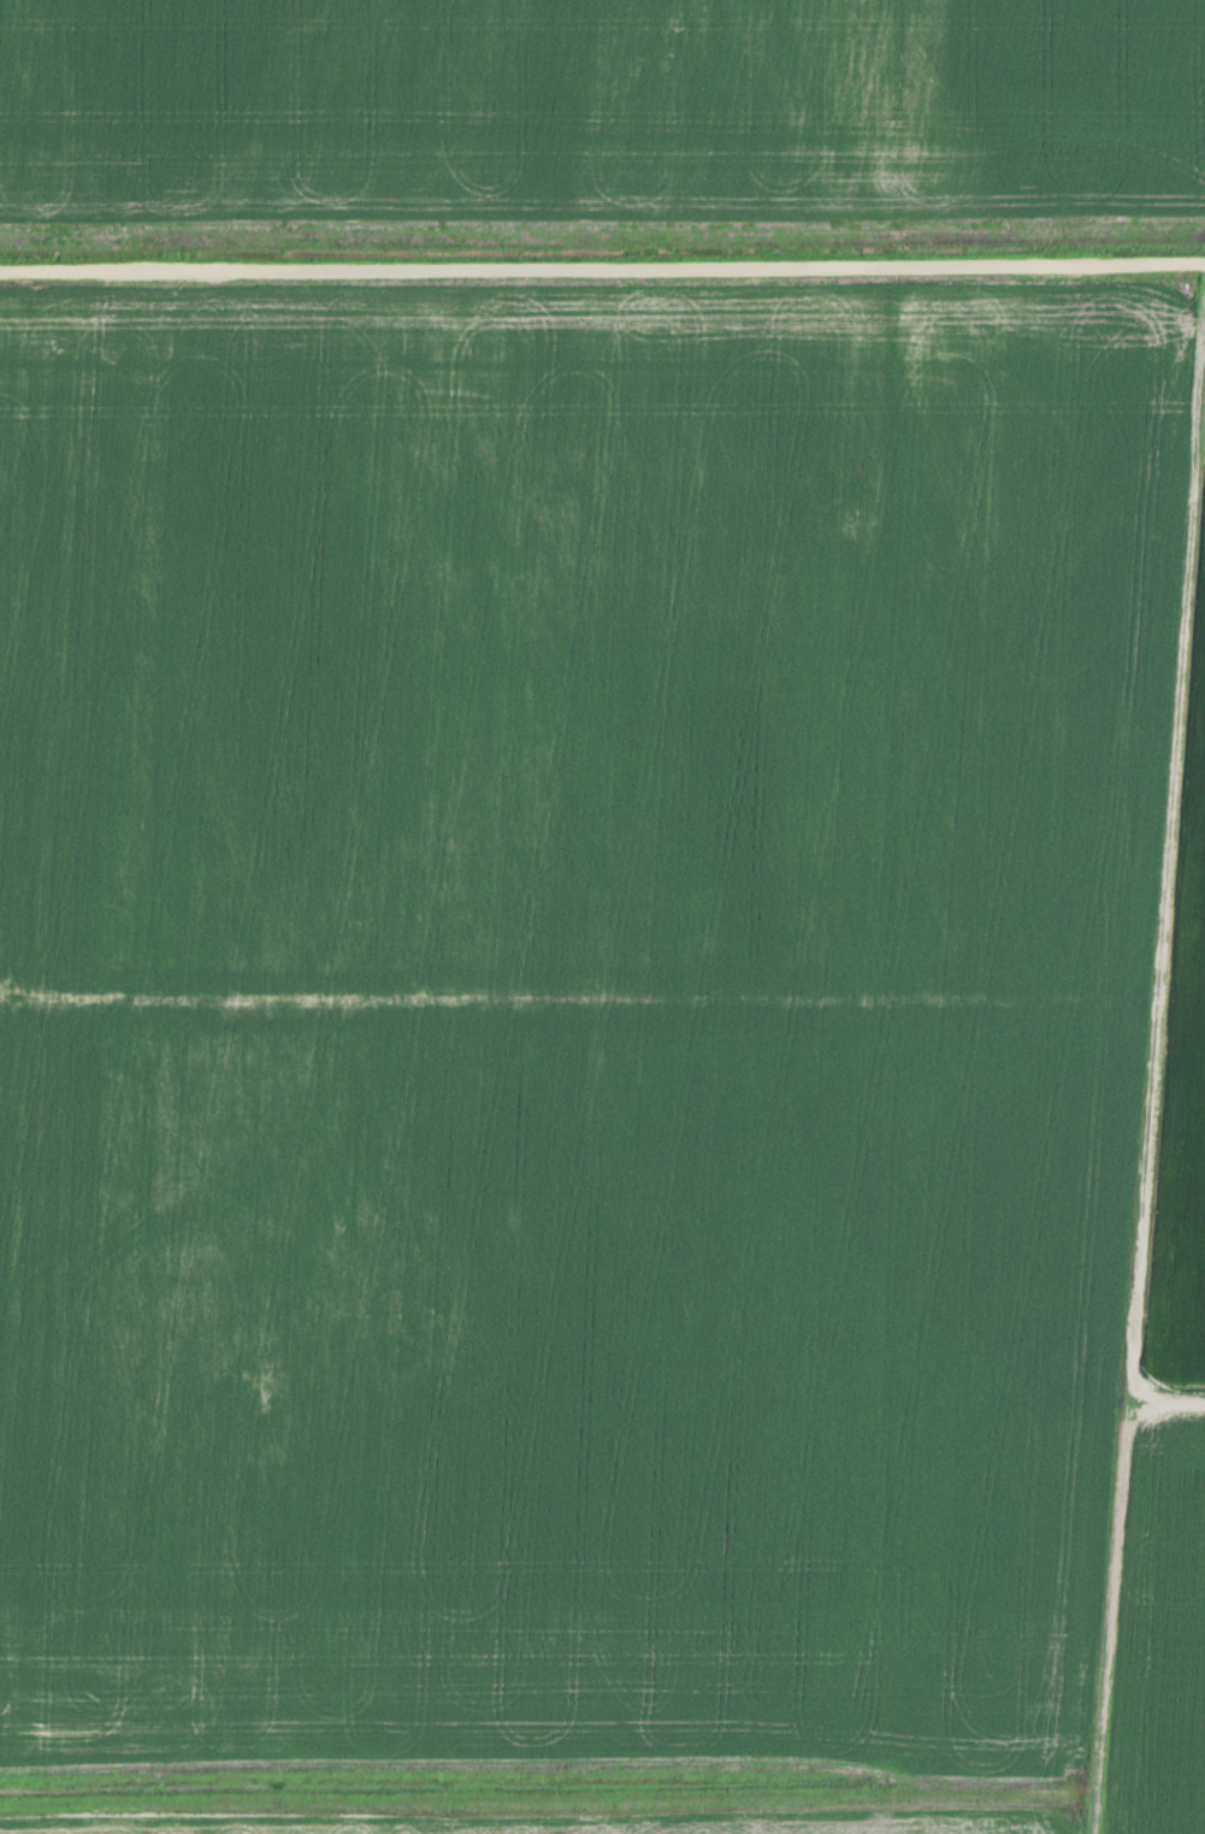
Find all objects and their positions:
road: (602, 261)

